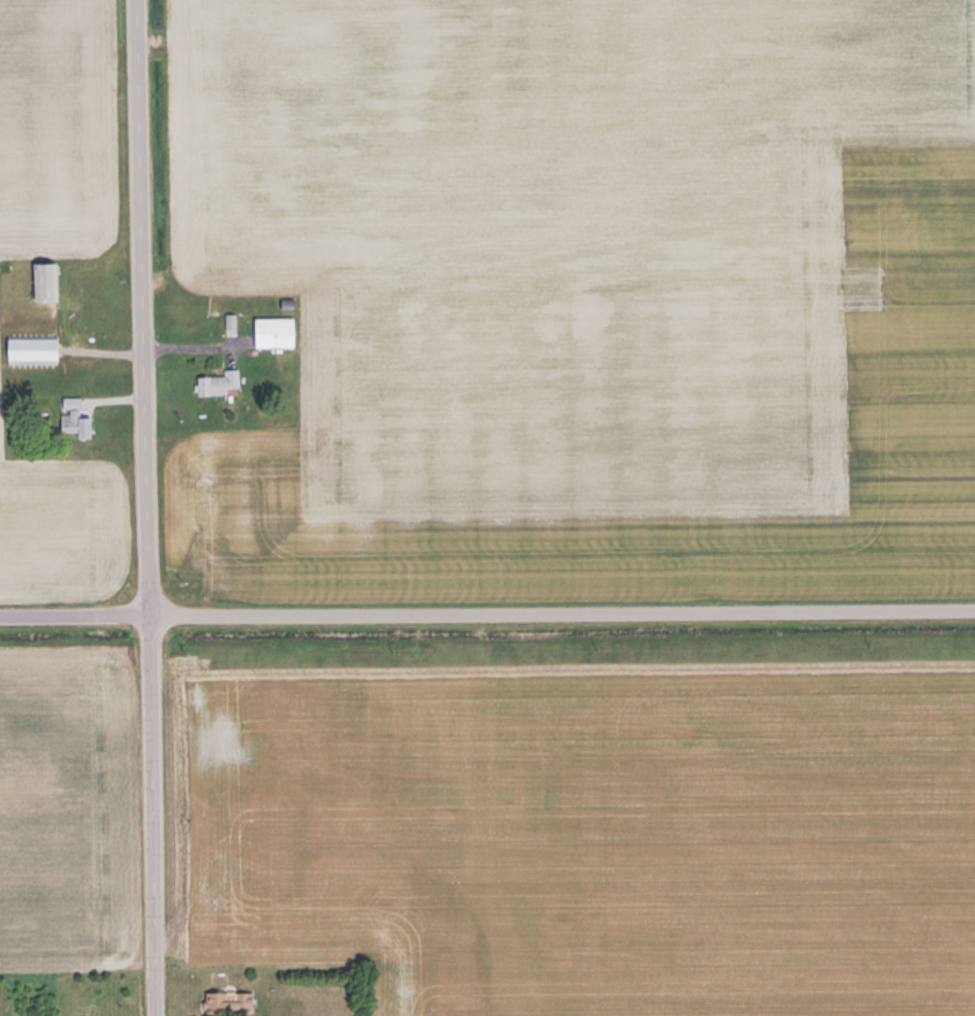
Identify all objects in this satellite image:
building: (47, 281)
building: (275, 332)
building: (33, 348)
building: (219, 382)
building: (77, 417)
road: (154, 507)
road: (487, 611)
building: (229, 1002)

